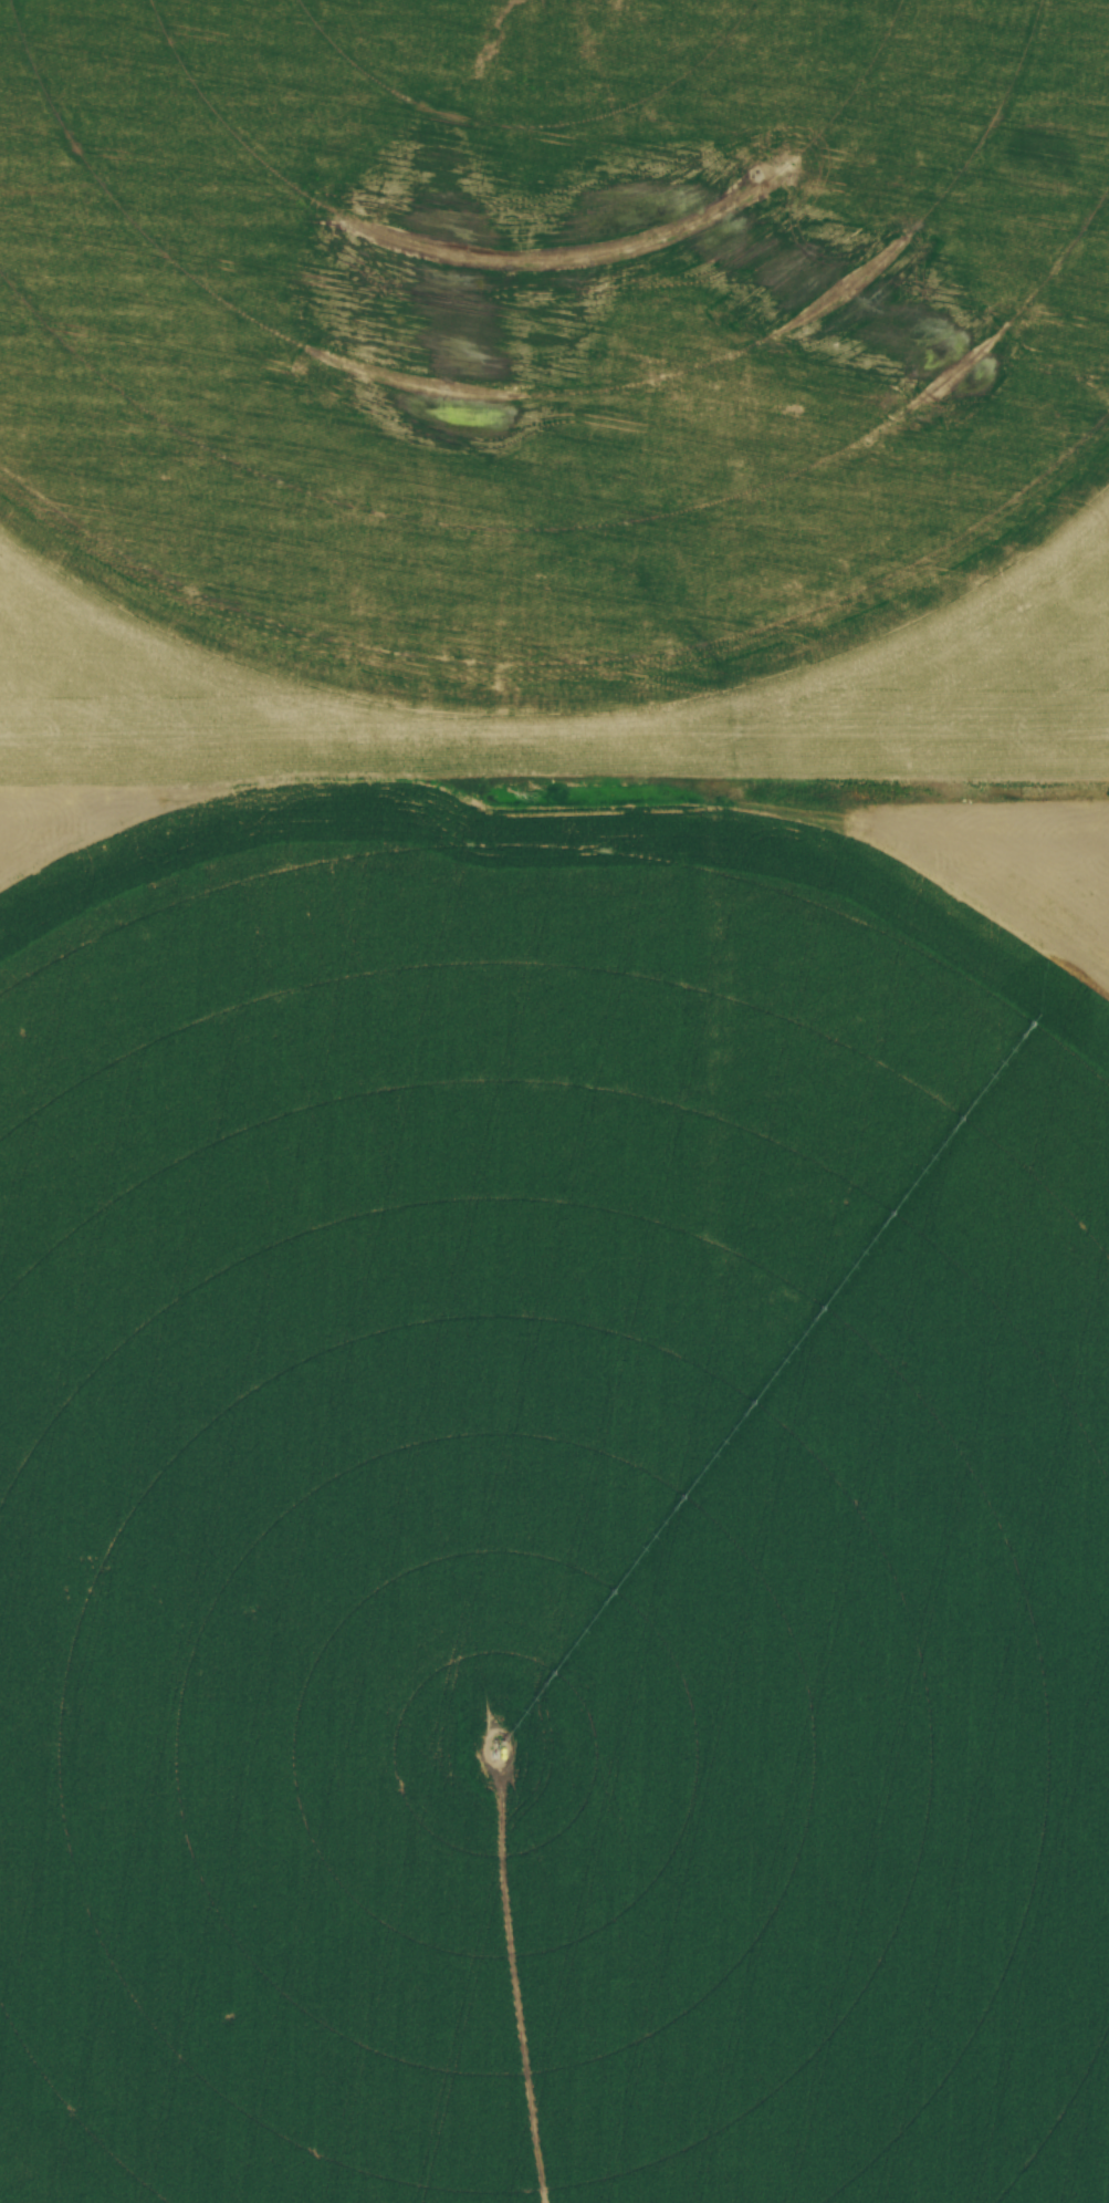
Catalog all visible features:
crop: (554, 1101)

